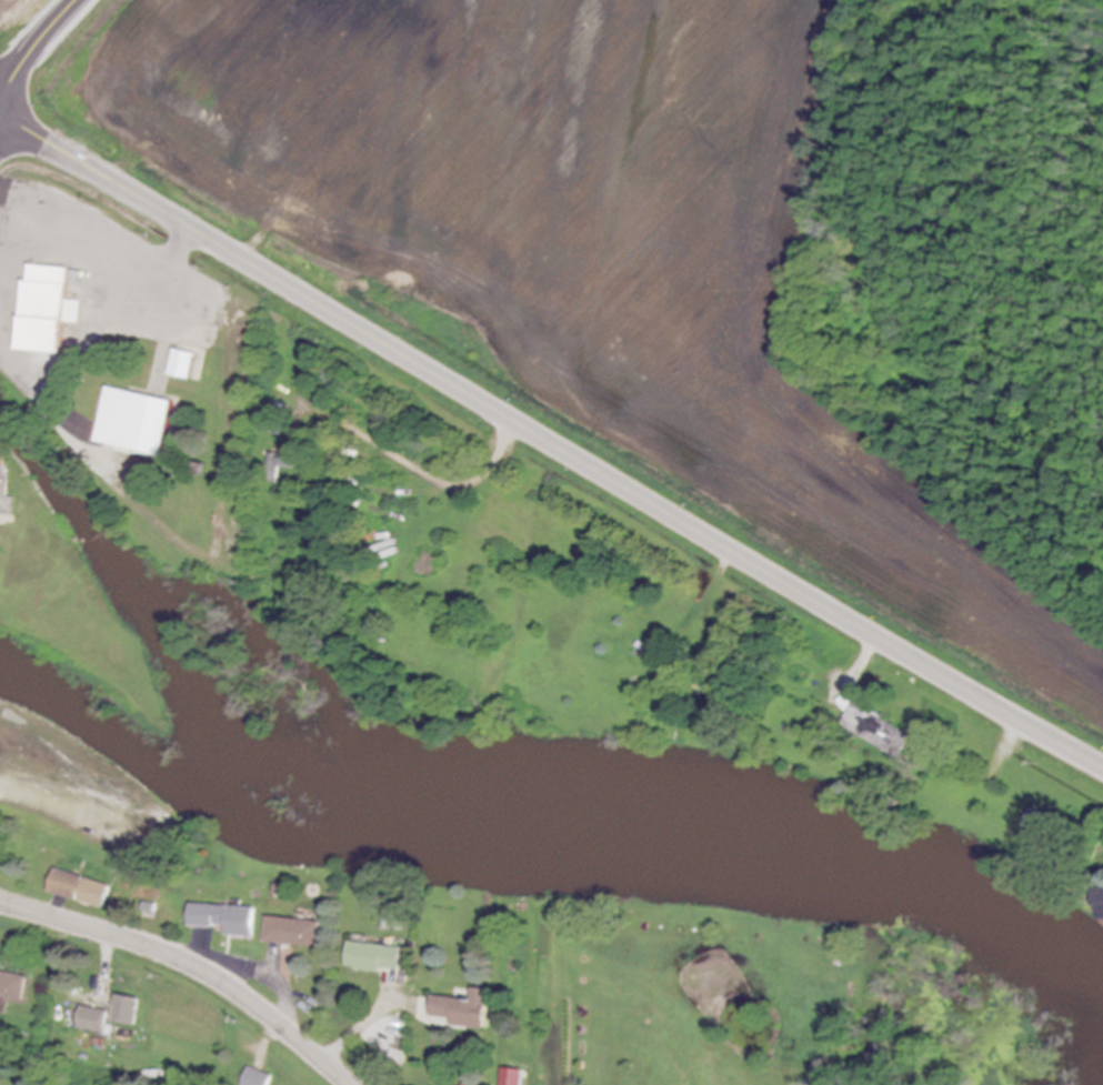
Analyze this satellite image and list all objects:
road: (32, 46)
building: (48, 311)
building: (182, 365)
building: (136, 422)
road: (549, 441)
road: (429, 473)
building: (1, 481)
road: (713, 589)
road: (866, 657)
river: (187, 673)
building: (878, 732)
road: (1010, 742)
river: (549, 836)
building: (80, 890)
building: (1100, 913)
building: (224, 918)
building: (293, 933)
building: (375, 958)
road: (191, 962)
building: (13, 986)
road: (284, 988)
road: (78, 993)
building: (464, 1009)
building: (127, 1011)
building: (93, 1021)
road: (361, 1031)
building: (513, 1077)
building: (255, 1078)

